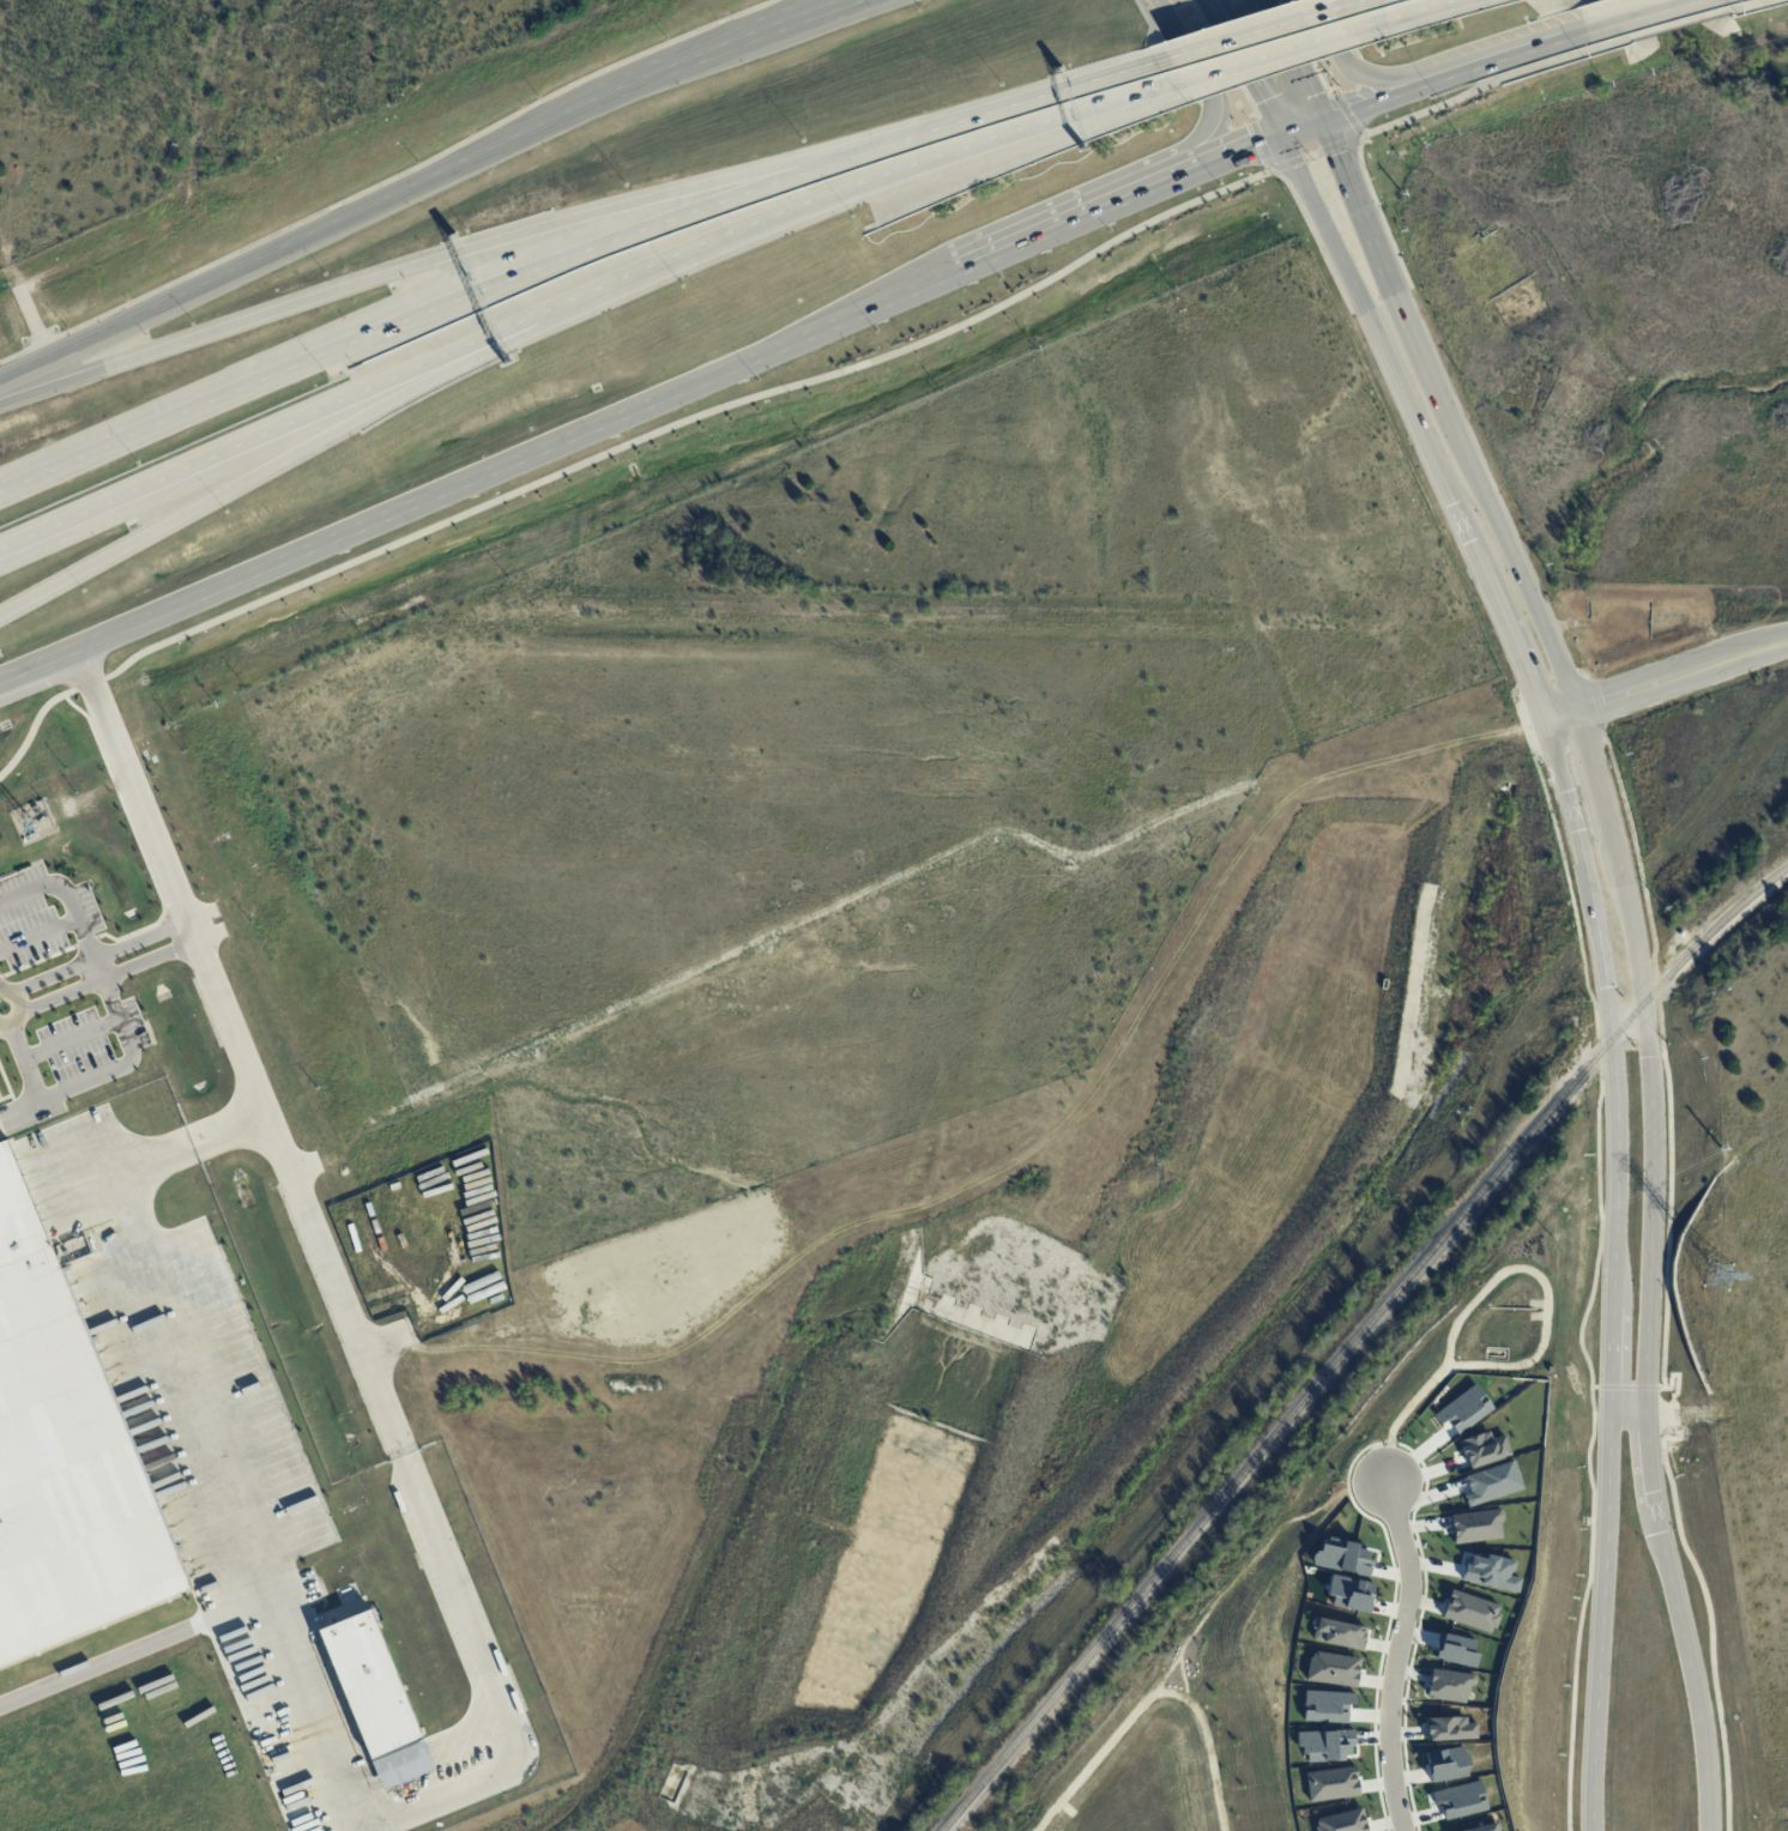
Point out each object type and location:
road: (1752, 2)
road: (830, 7)
road: (1406, 11)
road: (1653, 12)
road: (1215, 18)
road: (1683, 23)
road: (1254, 28)
road: (1593, 30)
road: (1273, 31)
road: (1269, 53)
road: (697, 58)
road: (1348, 62)
road: (1494, 62)
road: (1204, 81)
road: (1252, 85)
road: (1310, 91)
road: (1007, 104)
road: (1371, 104)
traffic signals: (1327, 120)
road: (1303, 128)
traffic signals: (1279, 137)
road: (1232, 152)
road: (1064, 224)
road: (292, 237)
road: (419, 262)
road: (580, 297)
road: (1403, 297)
road: (418, 307)
road: (1371, 338)
road: (797, 382)
road: (506, 458)
road: (260, 470)
road: (1530, 591)
road: (1506, 629)
road: (1780, 642)
road: (37, 660)
road: (1675, 675)
road: (1564, 713)
road: (1603, 794)
road: (68, 901)
parking lot: (26, 917)
road: (37, 932)
road: (95, 955)
road: (103, 977)
road: (17, 1007)
road: (68, 1039)
parking lot: (90, 1044)
road: (235, 1051)
road: (84, 1078)
road: (1611, 1271)
power tower: (1716, 1275)
railway: (1358, 1341)
road: (1648, 1359)
road: (1630, 1413)
building: (62, 1460)
road: (140, 1646)
road: (306, 1650)
road: (1397, 1655)
building: (375, 1699)

